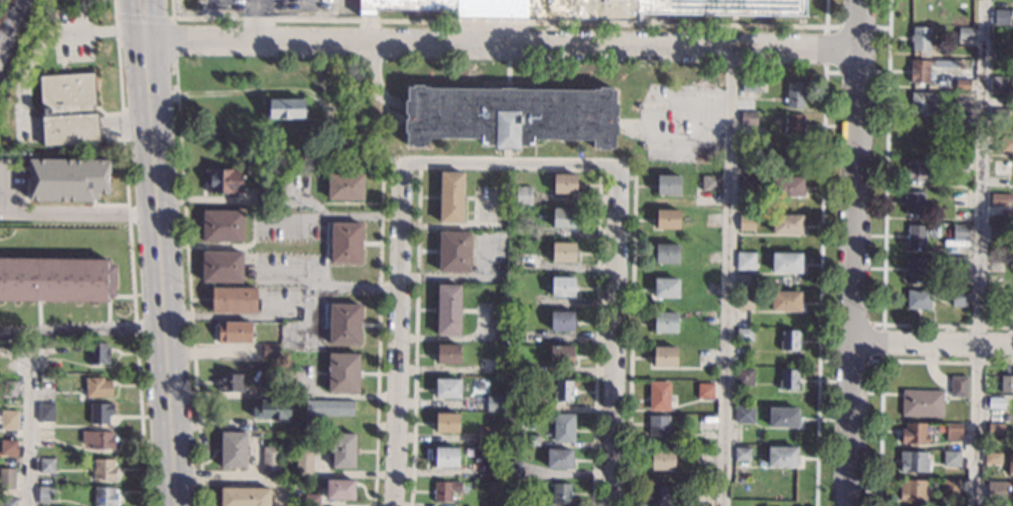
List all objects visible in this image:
building: (965, 2)
building: (583, 8)
building: (921, 8)
building: (1002, 17)
road: (142, 19)
road: (502, 22)
railway: (12, 26)
road: (836, 27)
road: (111, 30)
parking lot: (73, 31)
building: (965, 33)
building: (921, 38)
road: (172, 39)
road: (496, 45)
building: (999, 51)
flagpole: (104, 66)
building: (919, 71)
road: (371, 74)
building: (962, 84)
building: (999, 84)
building: (749, 86)
building: (795, 94)
building: (961, 97)
building: (923, 104)
building: (286, 108)
building: (68, 109)
building: (345, 110)
building: (510, 115)
building: (999, 115)
building: (749, 118)
building: (793, 124)
building: (1006, 143)
building: (792, 156)
road: (505, 164)
building: (959, 165)
building: (749, 166)
building: (1001, 167)
building: (916, 169)
road: (615, 176)
road: (981, 177)
building: (67, 179)
road: (399, 179)
building: (223, 180)
building: (709, 182)
building: (564, 183)
building: (667, 184)
building: (749, 185)
building: (344, 186)
building: (788, 186)
building: (523, 195)
building: (450, 197)
building: (264, 198)
building: (960, 199)
building: (913, 202)
building: (1000, 203)
road: (51, 213)
building: (563, 218)
building: (667, 219)
building: (746, 222)
building: (786, 224)
building: (222, 225)
building: (961, 231)
building: (996, 233)
building: (538, 234)
building: (917, 236)
building: (345, 243)
building: (537, 244)
building: (454, 251)
building: (563, 252)
road: (855, 252)
road: (128, 253)
road: (148, 253)
road: (171, 253)
building: (666, 253)
building: (745, 260)
building: (786, 262)
building: (513, 264)
building: (222, 266)
building: (957, 266)
building: (995, 266)
building: (915, 268)
road: (724, 277)
building: (56, 279)
road: (187, 283)
road: (819, 285)
building: (562, 286)
building: (666, 287)
building: (958, 297)
building: (918, 299)
building: (234, 300)
building: (511, 301)
building: (744, 301)
building: (785, 301)
building: (1010, 303)
building: (448, 309)
building: (561, 321)
building: (665, 322)
building: (344, 324)
road: (77, 329)
building: (233, 332)
building: (744, 334)
road: (377, 337)
building: (789, 340)
road: (594, 341)
road: (613, 341)
road: (395, 342)
road: (413, 342)
road: (628, 342)
building: (270, 351)
road: (933, 352)
building: (98, 353)
building: (448, 354)
building: (561, 355)
building: (664, 356)
building: (343, 373)
building: (744, 376)
building: (788, 379)
building: (46, 382)
building: (230, 383)
building: (1006, 383)
building: (958, 386)
road: (976, 386)
building: (97, 387)
building: (447, 388)
building: (9, 389)
building: (270, 390)
building: (563, 390)
building: (704, 390)
building: (659, 395)
building: (922, 402)
building: (996, 402)
building: (494, 403)
building: (537, 405)
building: (329, 407)
building: (272, 409)
building: (45, 412)
building: (100, 413)
building: (744, 414)
building: (995, 414)
building: (782, 417)
building: (8, 420)
building: (446, 422)
building: (704, 422)
building: (657, 425)
building: (563, 428)
building: (996, 429)
road: (28, 431)
building: (953, 432)
building: (914, 433)
building: (487, 435)
building: (98, 439)
building: (531, 440)
building: (8, 447)
building: (233, 450)
building: (342, 450)
building: (741, 453)
building: (782, 456)
building: (446, 457)
building: (558, 458)
building: (951, 458)
building: (993, 458)
building: (662, 459)
building: (270, 461)
building: (913, 461)
building: (303, 462)
road: (974, 462)
building: (1010, 464)
building: (46, 465)
building: (472, 468)
building: (103, 469)
building: (513, 470)
building: (7, 478)
building: (950, 485)
building: (494, 487)
building: (340, 489)
building: (445, 490)
building: (701, 490)
building: (912, 490)
building: (995, 490)
building: (561, 493)
building: (45, 494)
building: (661, 494)
building: (245, 496)
building: (785, 496)
building: (105, 497)
building: (311, 500)
building: (8, 502)
building: (741, 502)

